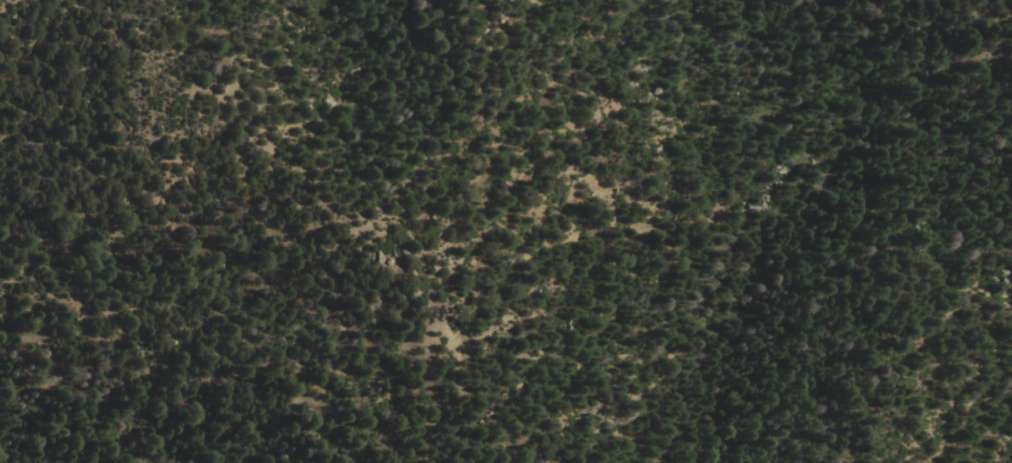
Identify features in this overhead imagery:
road: (868, 77)

